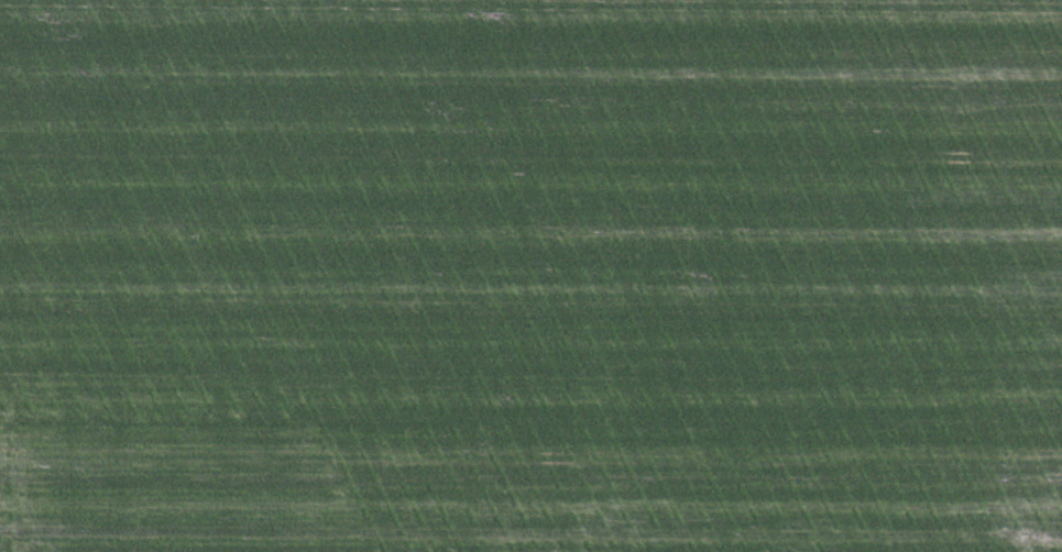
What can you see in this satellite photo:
crop: (530, 276)

